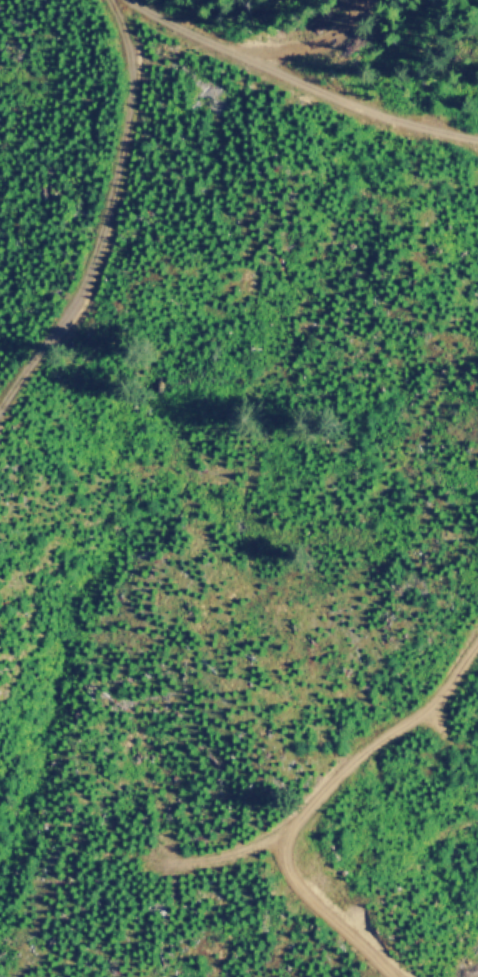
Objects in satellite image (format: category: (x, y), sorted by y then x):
road: (298, 81)
road: (105, 218)
road: (338, 779)

